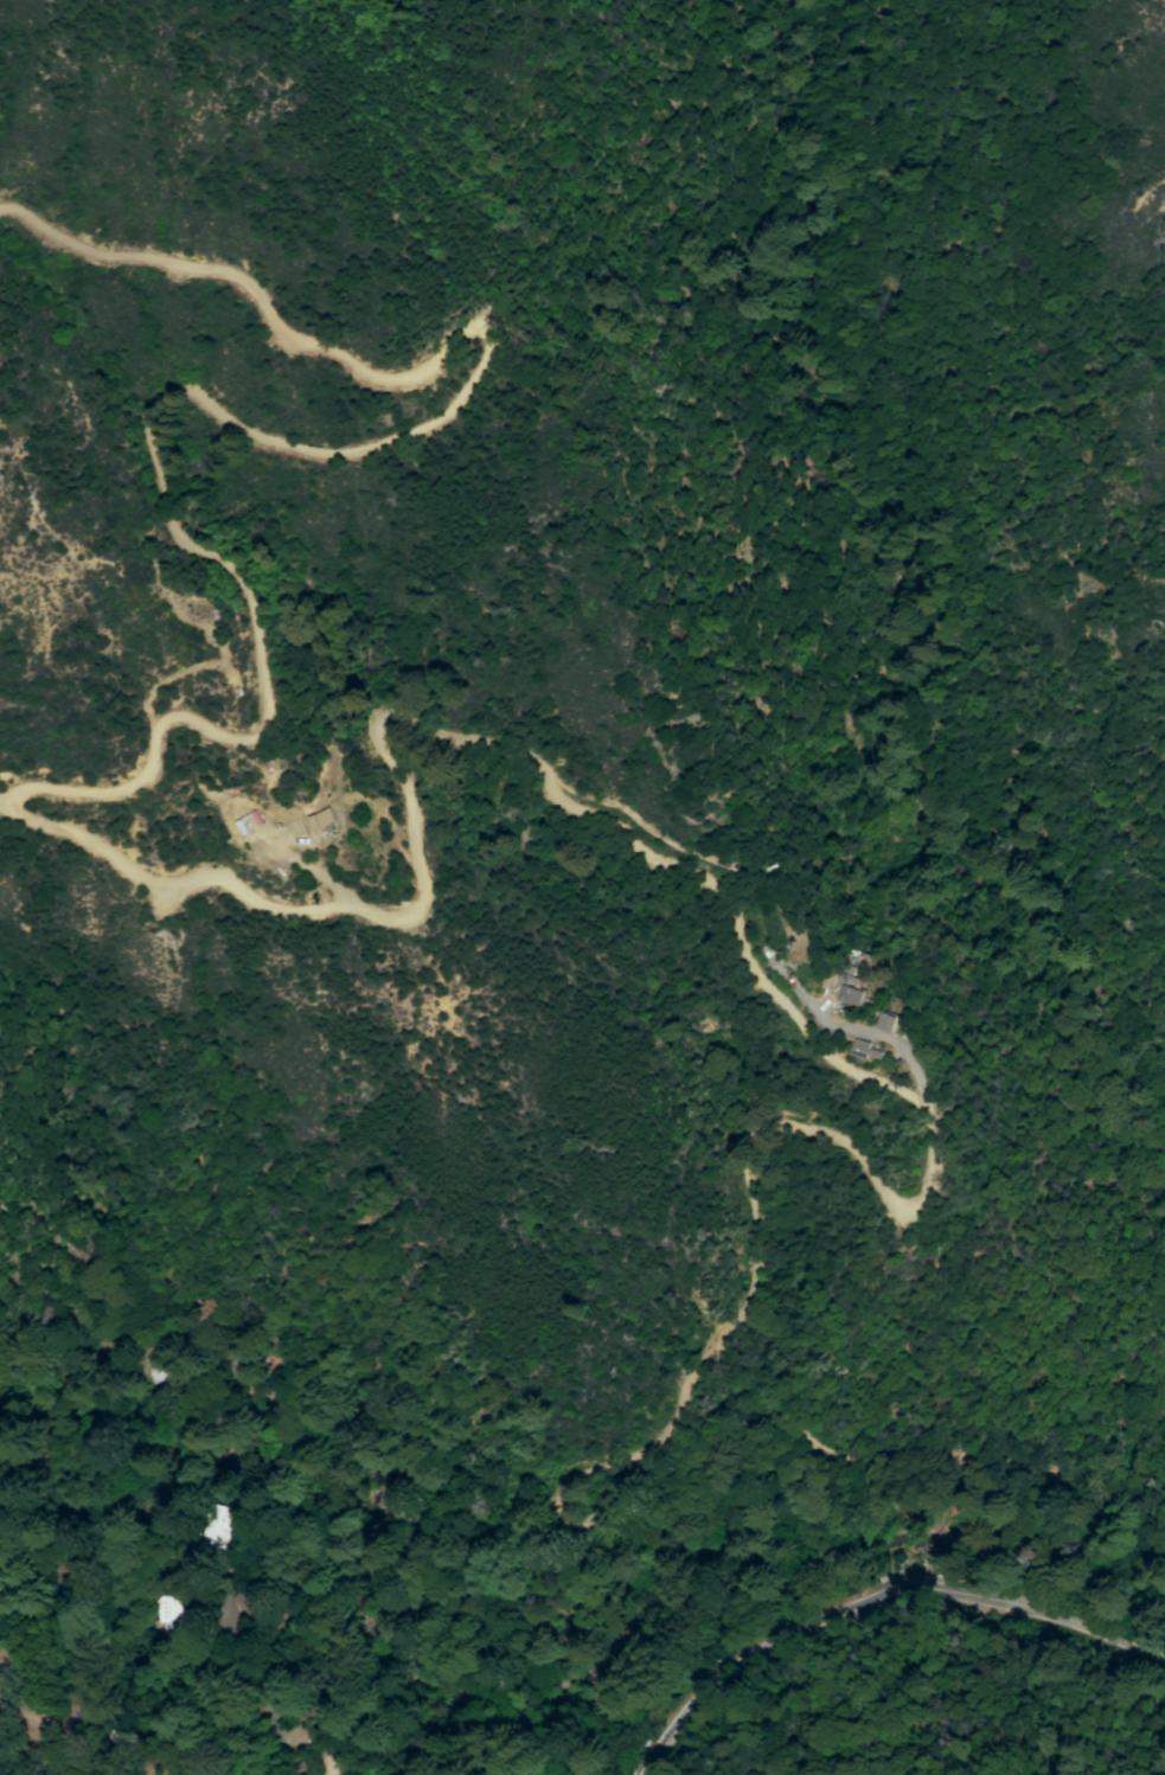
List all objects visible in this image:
road: (289, 444)
building: (322, 818)
road: (316, 873)
road: (729, 933)
building: (850, 985)
building: (885, 1021)
road: (863, 1029)
building: (863, 1047)
road: (876, 1600)
road: (38, 1756)

